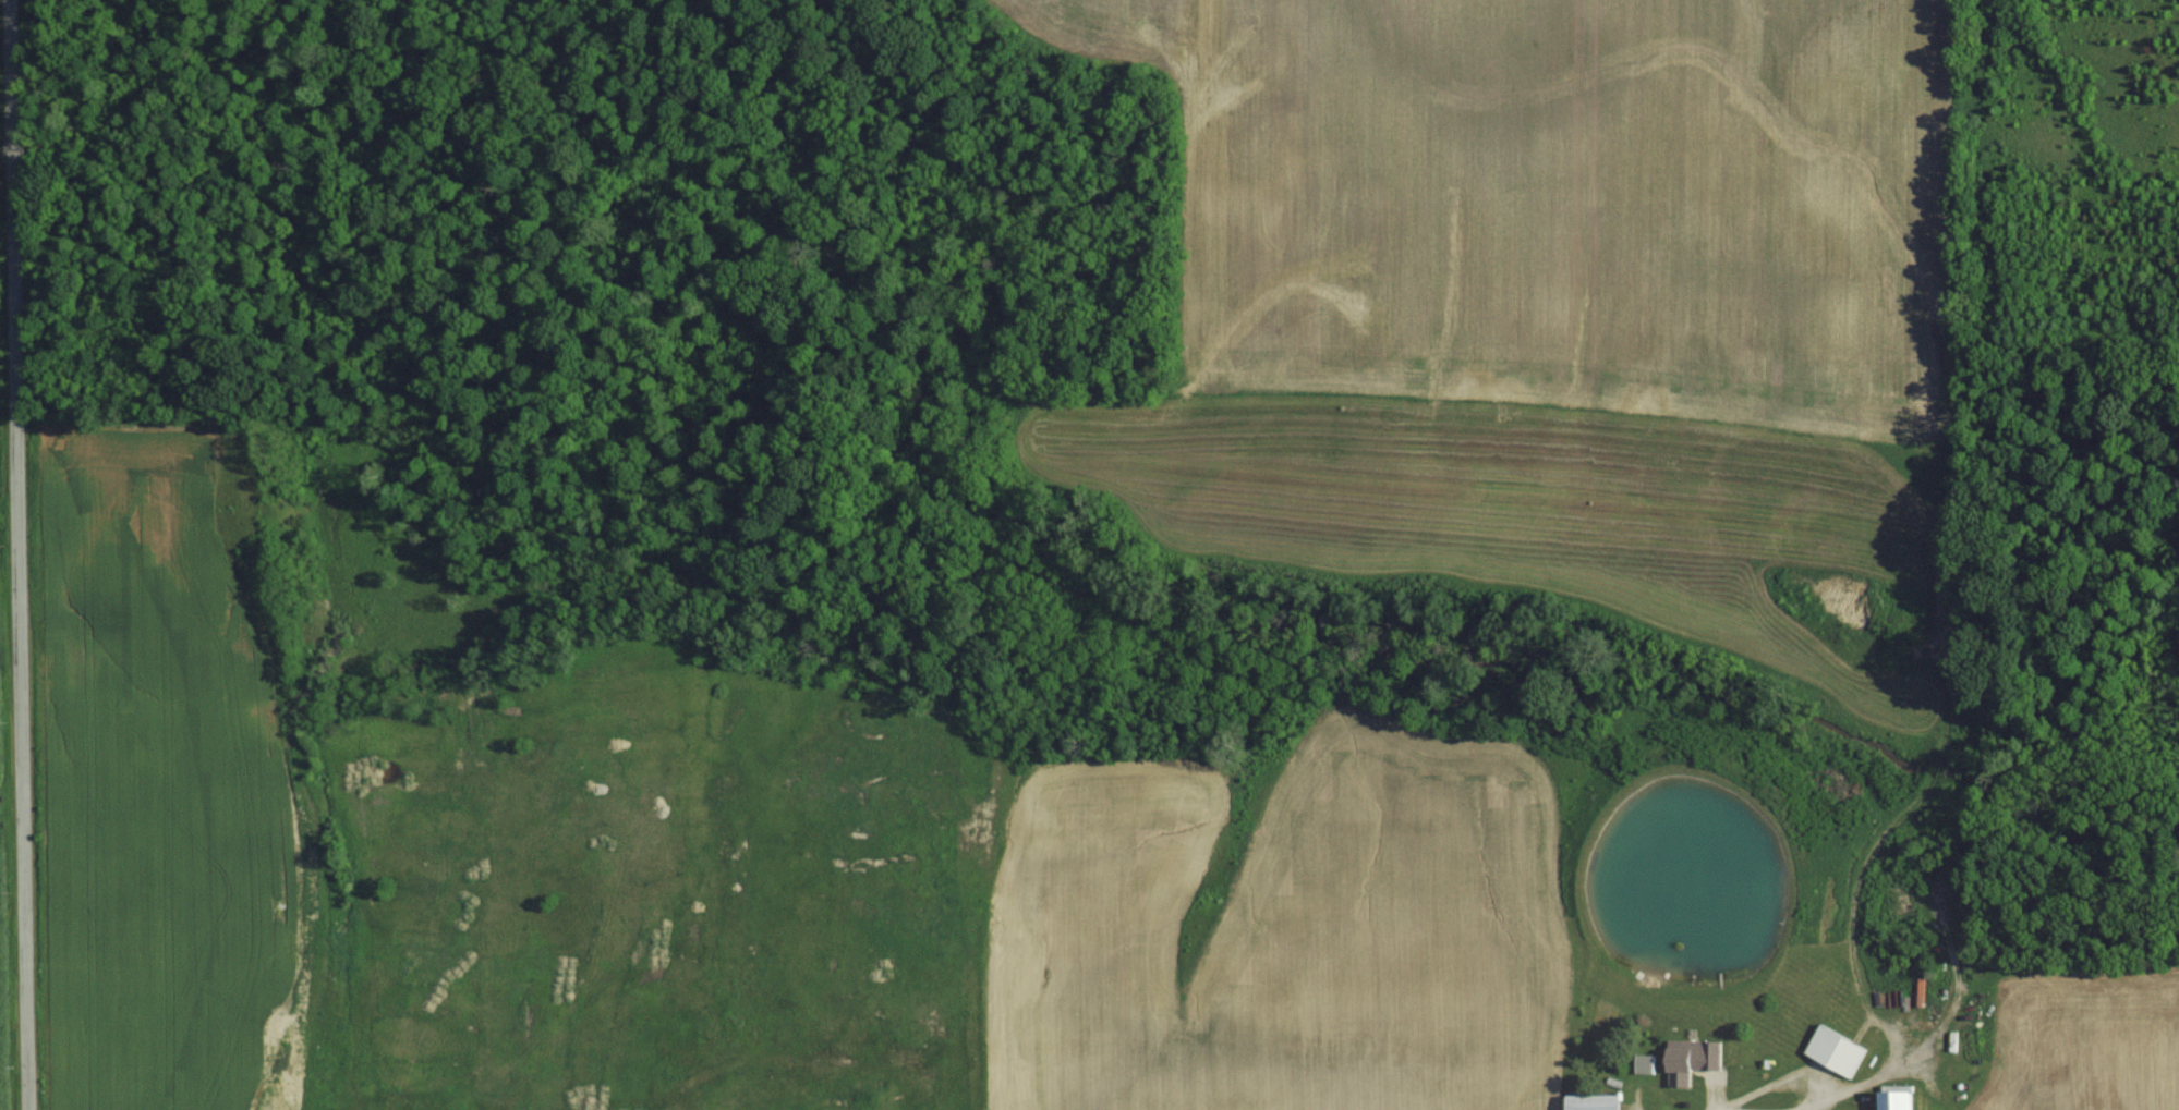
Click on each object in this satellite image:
road: (16, 554)
building: (1767, 1037)
building: (1840, 1048)
building: (1695, 1058)
building: (1599, 1101)

